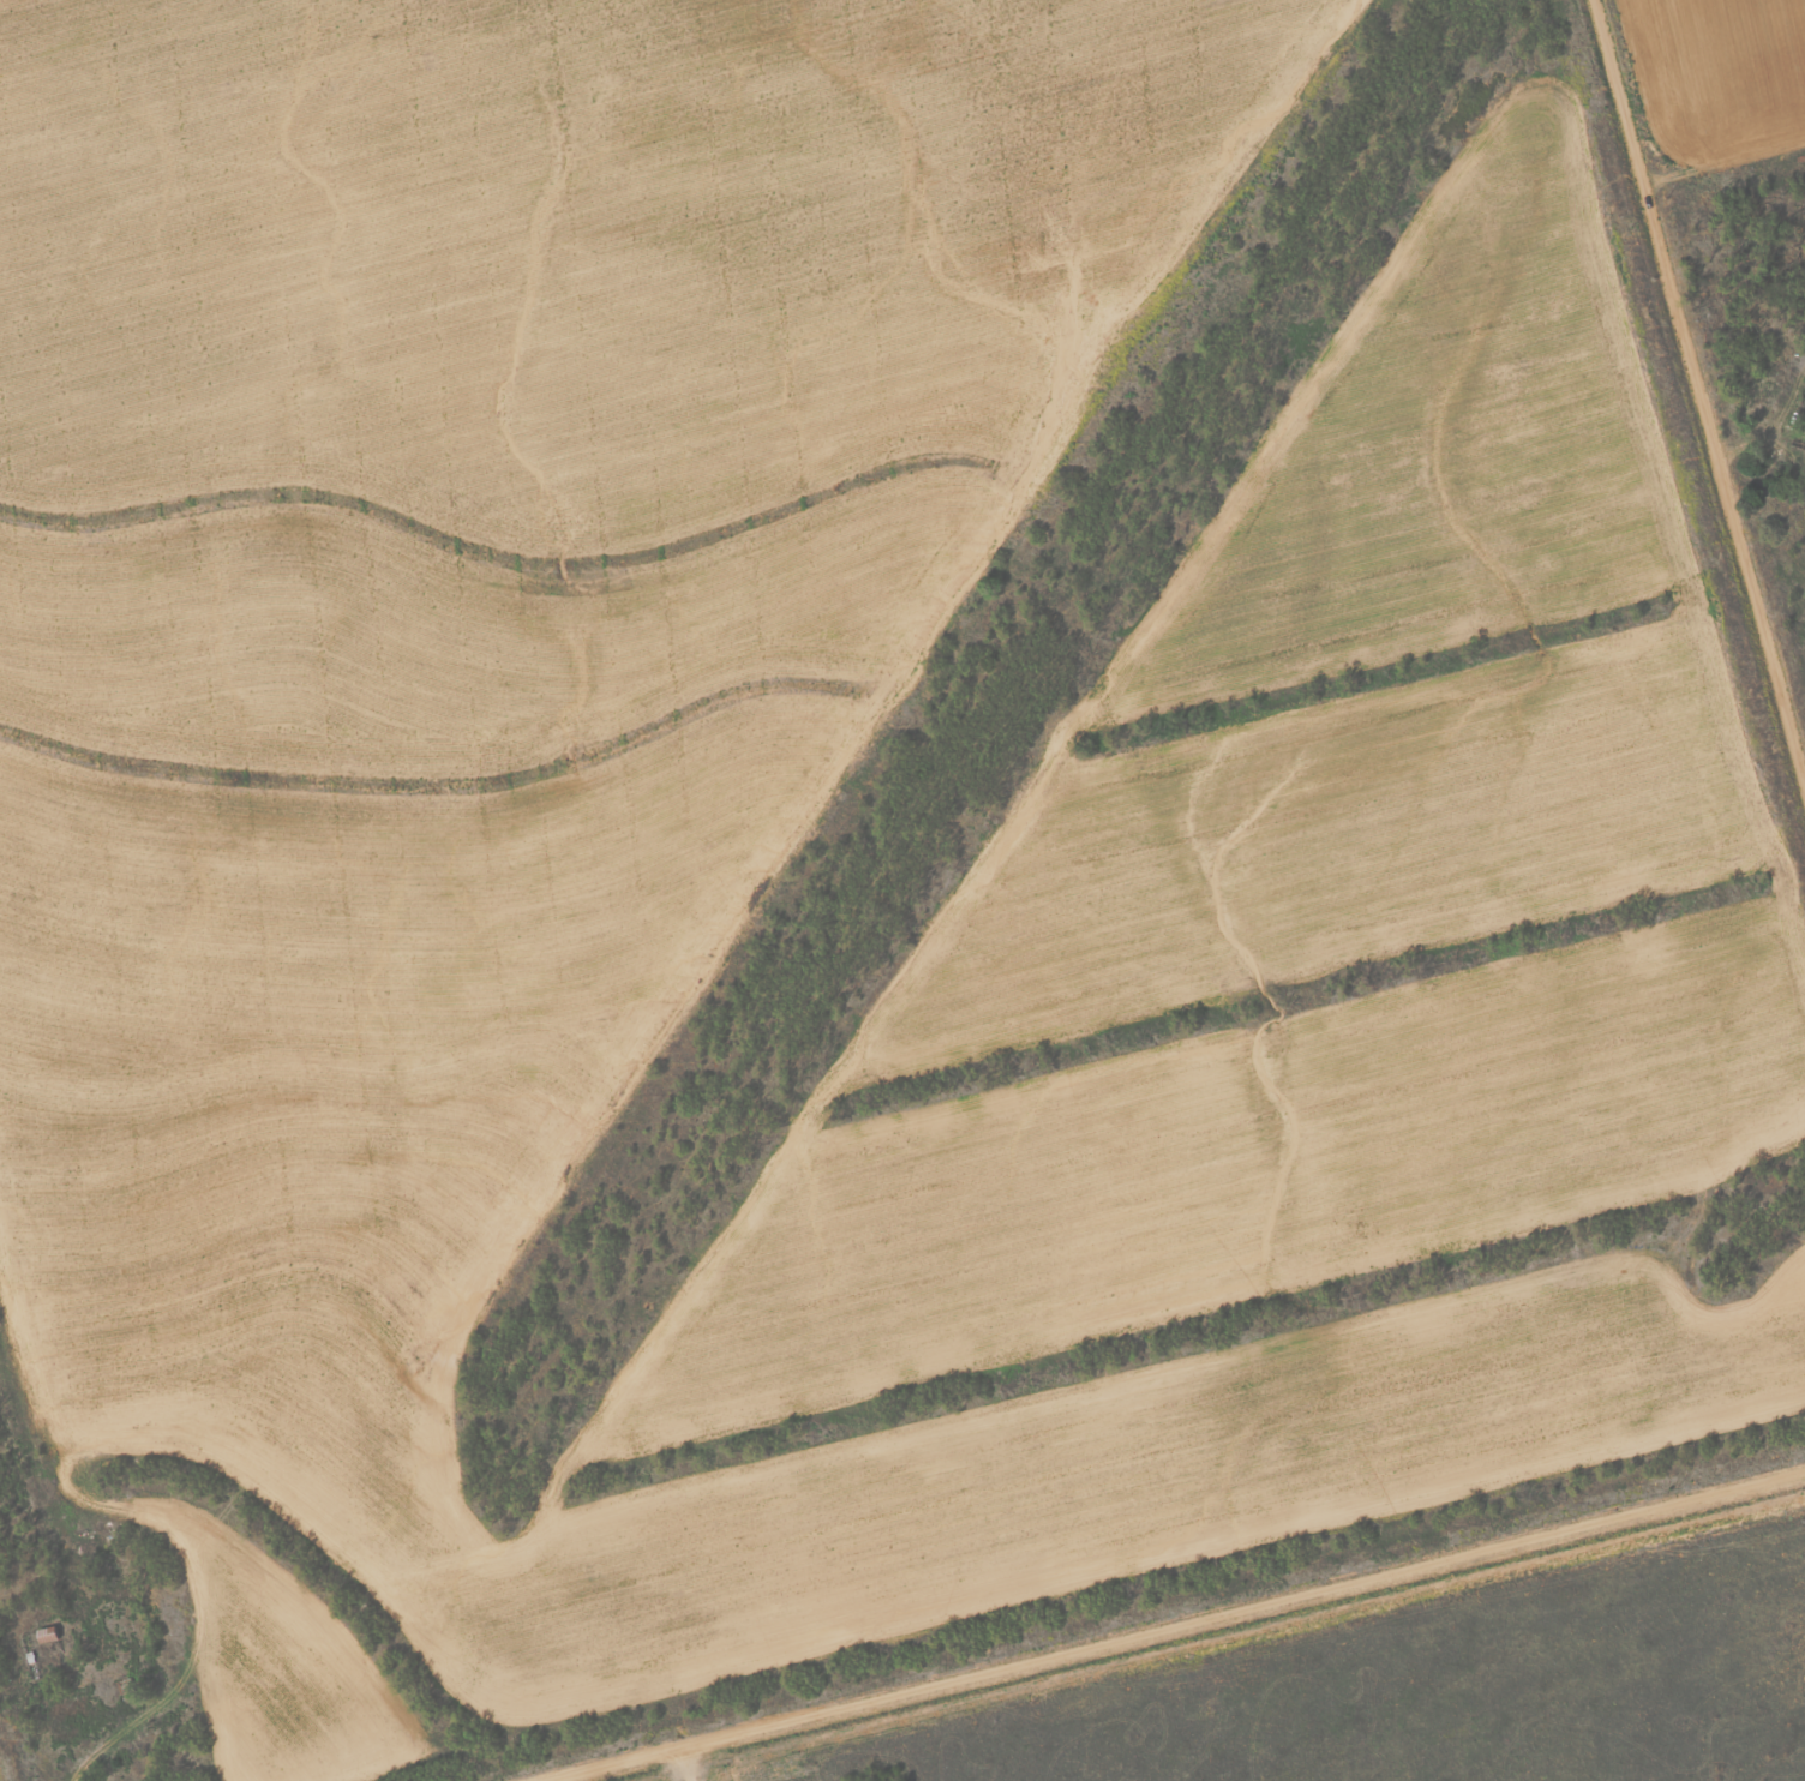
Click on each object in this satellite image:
road: (1683, 410)
road: (1179, 1625)

